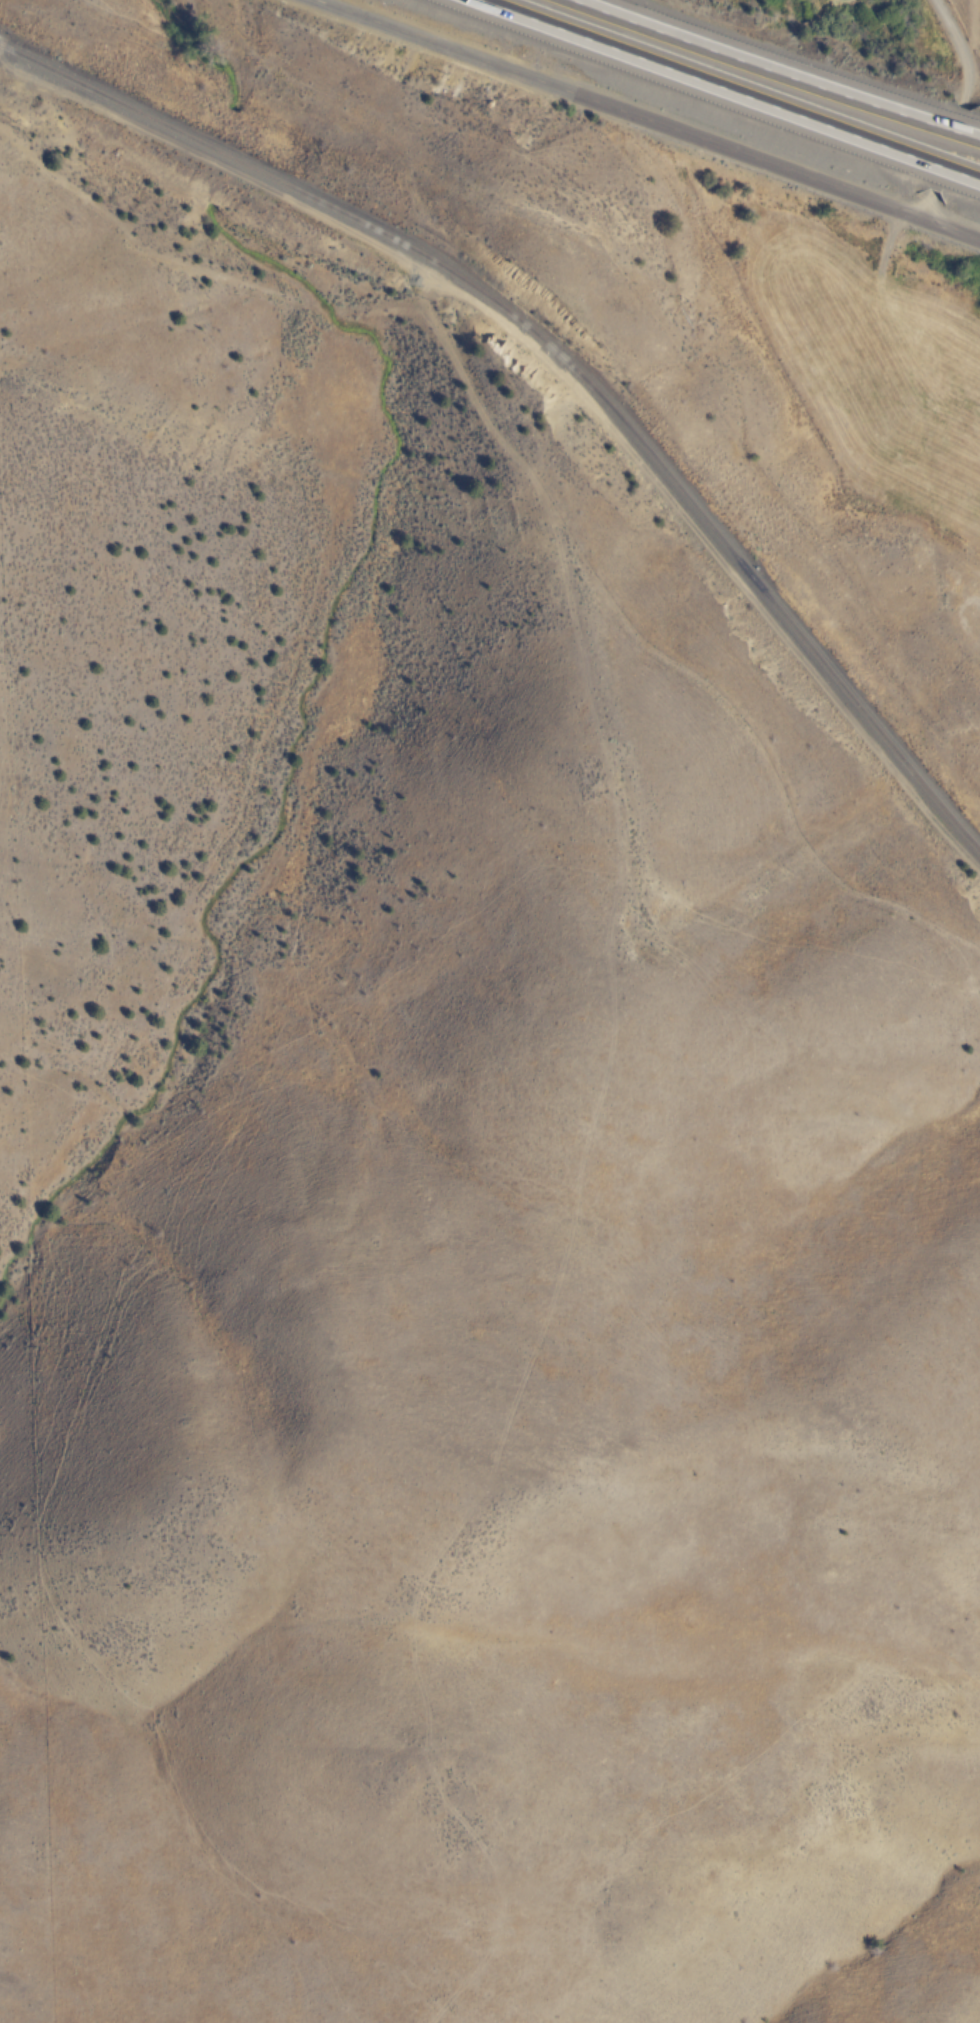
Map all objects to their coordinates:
road: (962, 49)
road: (786, 66)
road: (738, 84)
road: (646, 118)
road: (928, 203)
railway: (561, 363)

